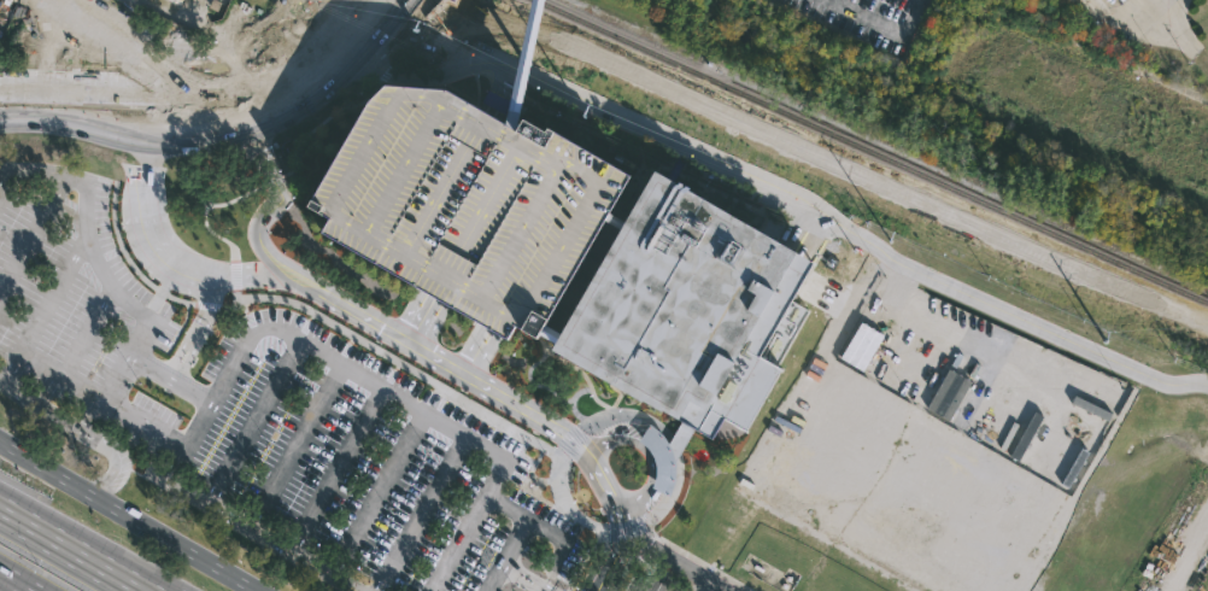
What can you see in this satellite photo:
power substation: (187, 13)
road: (442, 24)
road: (411, 25)
road: (882, 25)
road: (468, 54)
road: (529, 65)
road: (272, 90)
road: (477, 93)
road: (206, 100)
building: (1098, 105)
road: (84, 117)
road: (231, 139)
railway: (872, 151)
railway: (854, 158)
road: (71, 180)
road: (788, 198)
building: (468, 206)
parking garage: (468, 206)
road: (272, 207)
road: (151, 229)
road: (254, 275)
road: (125, 303)
road: (46, 310)
building: (687, 318)
road: (422, 324)
road: (199, 330)
road: (465, 349)
road: (481, 357)
road: (149, 369)
road: (64, 378)
road: (469, 381)
parking lot: (268, 396)
road: (253, 417)
road: (146, 426)
road: (81, 431)
road: (467, 433)
road: (644, 452)
road: (508, 508)
road: (127, 516)
road: (546, 529)
road: (77, 545)
road: (615, 549)
road: (680, 554)
road: (506, 555)
parking lot: (662, 574)
road: (523, 578)
road: (13, 583)

